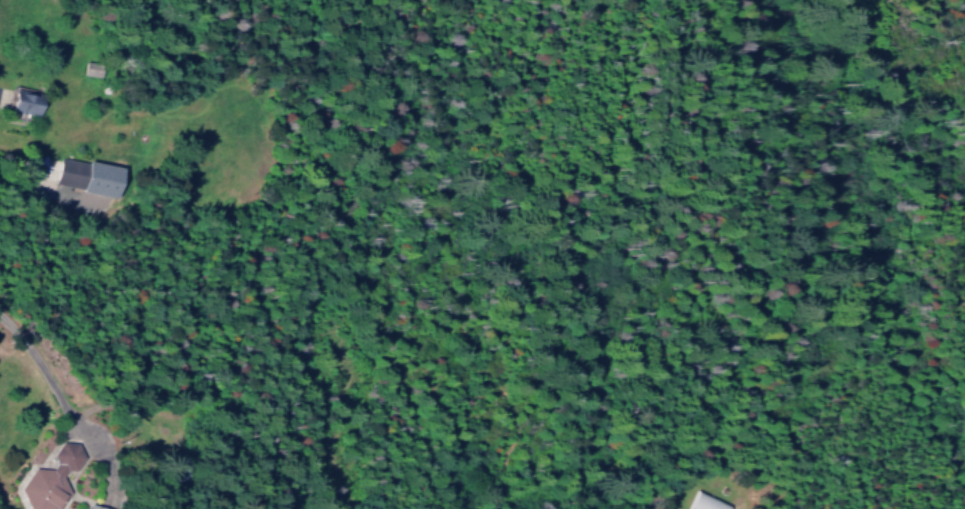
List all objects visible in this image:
building: (91, 68)
building: (25, 99)
building: (71, 170)
road: (21, 180)
road: (48, 375)
building: (50, 475)
building: (98, 505)

